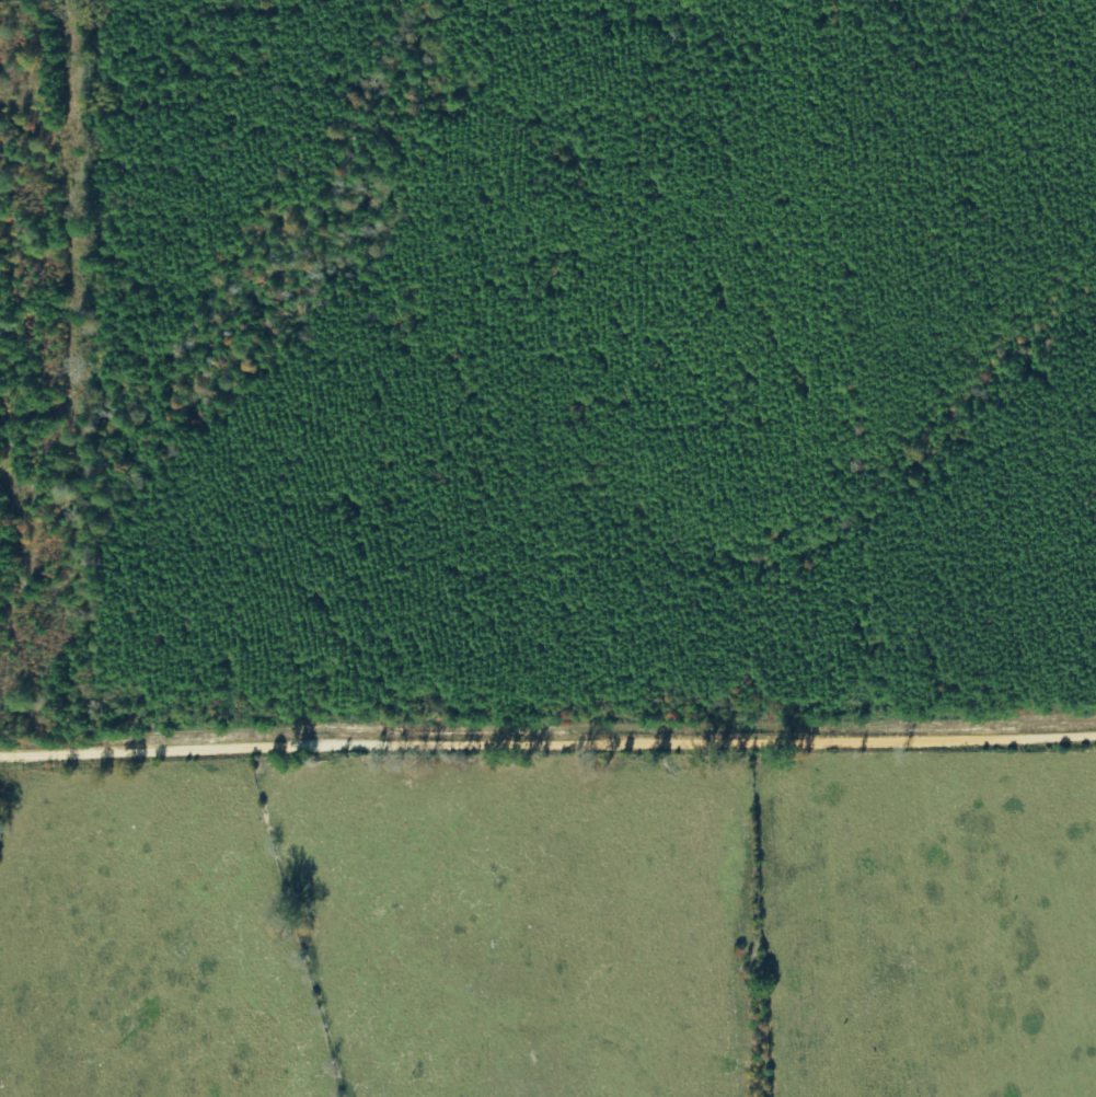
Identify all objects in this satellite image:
road: (547, 759)

